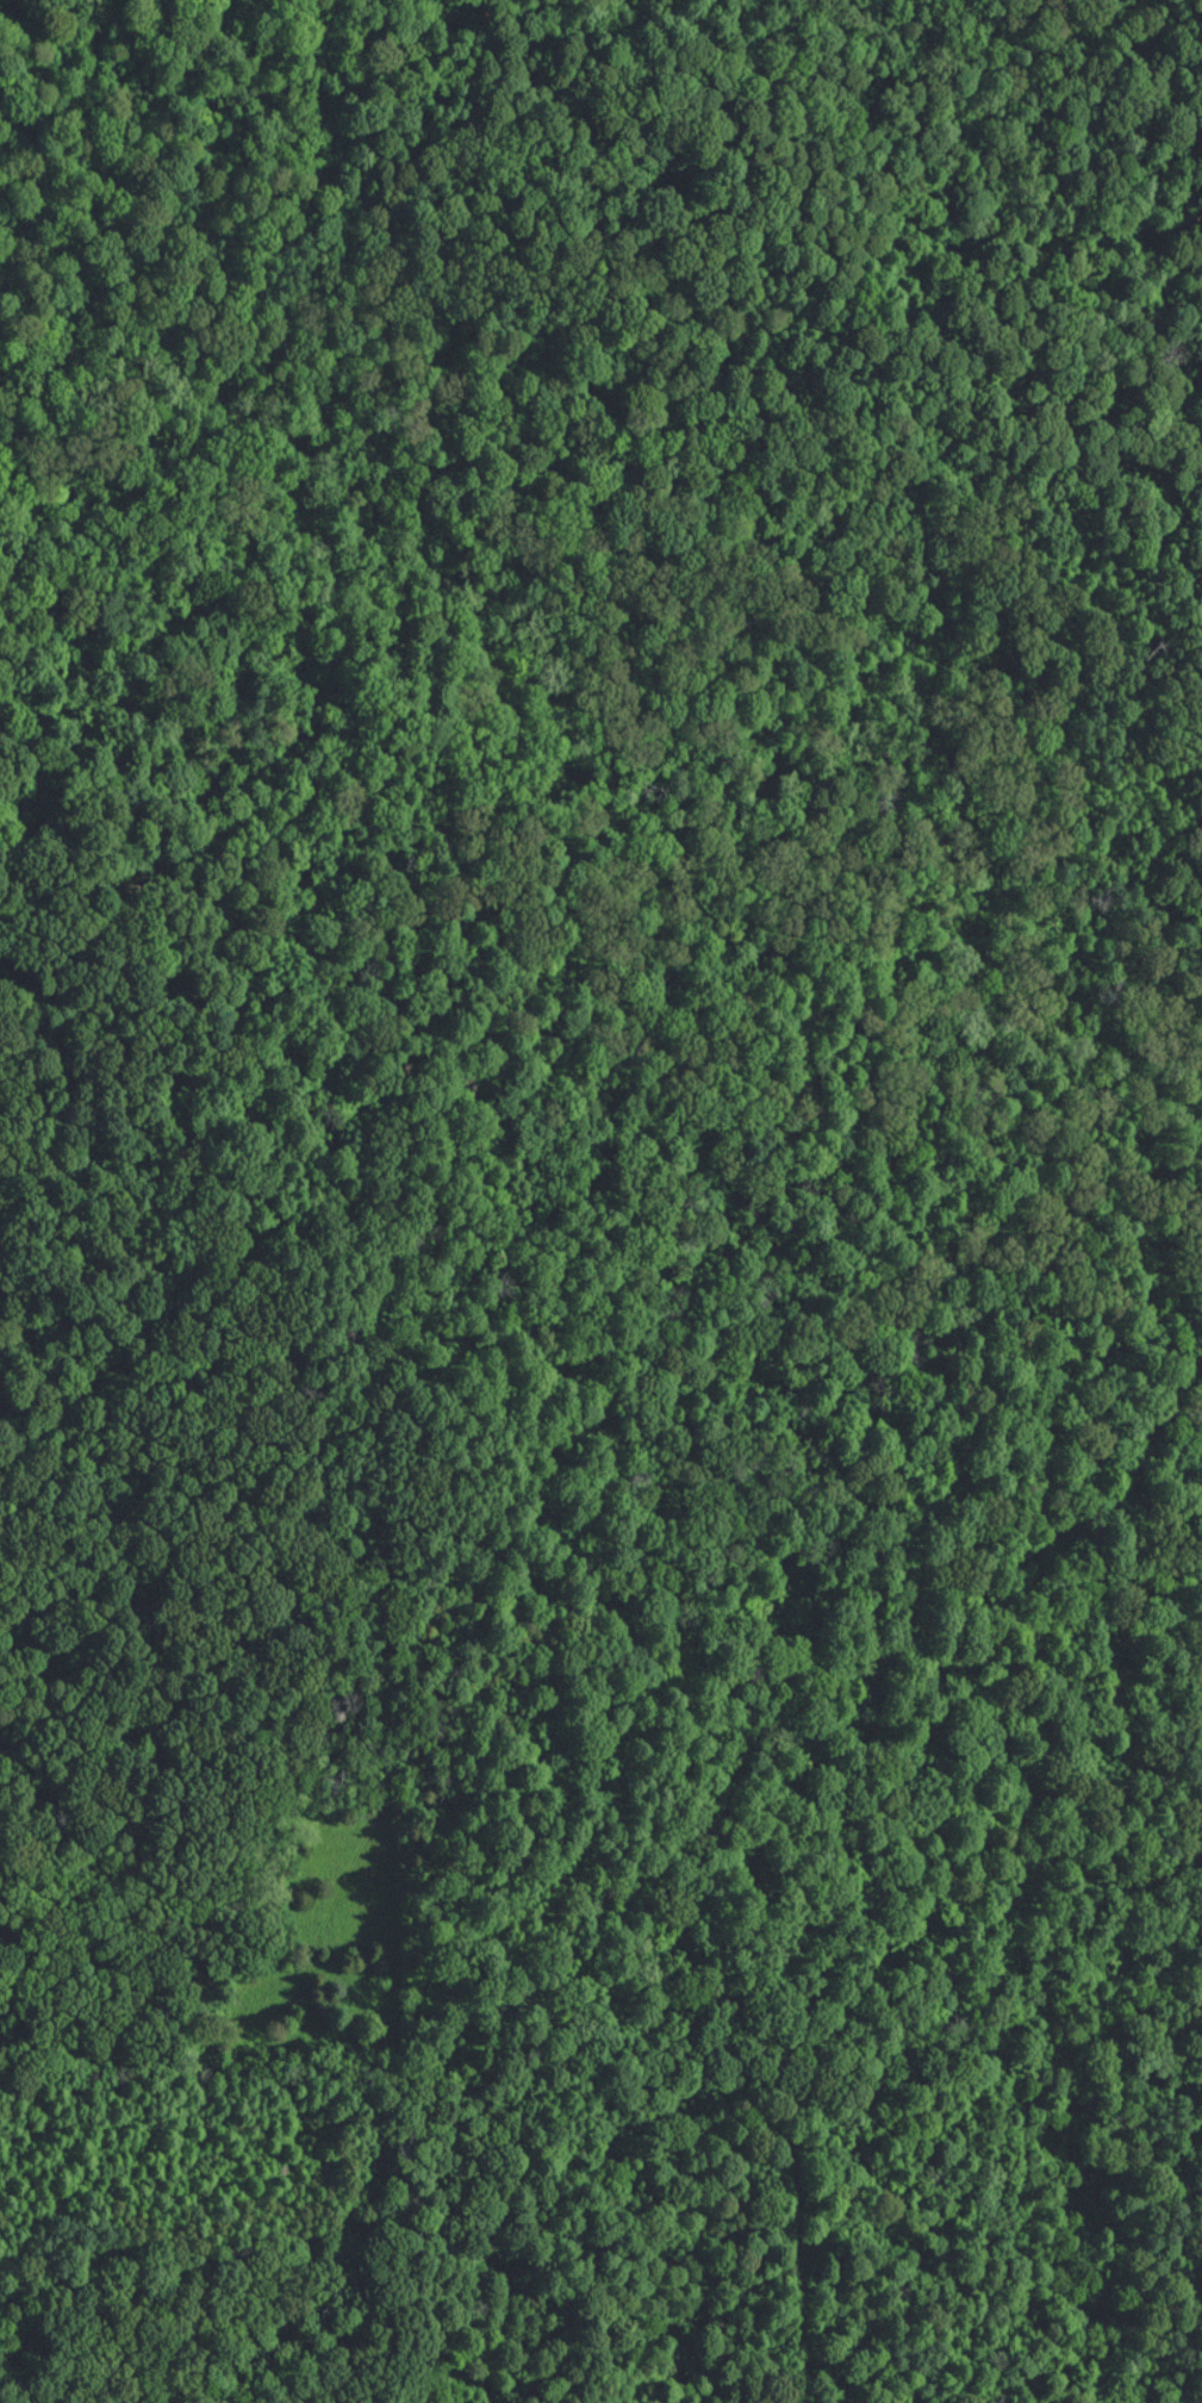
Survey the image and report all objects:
road: (815, 2280)

